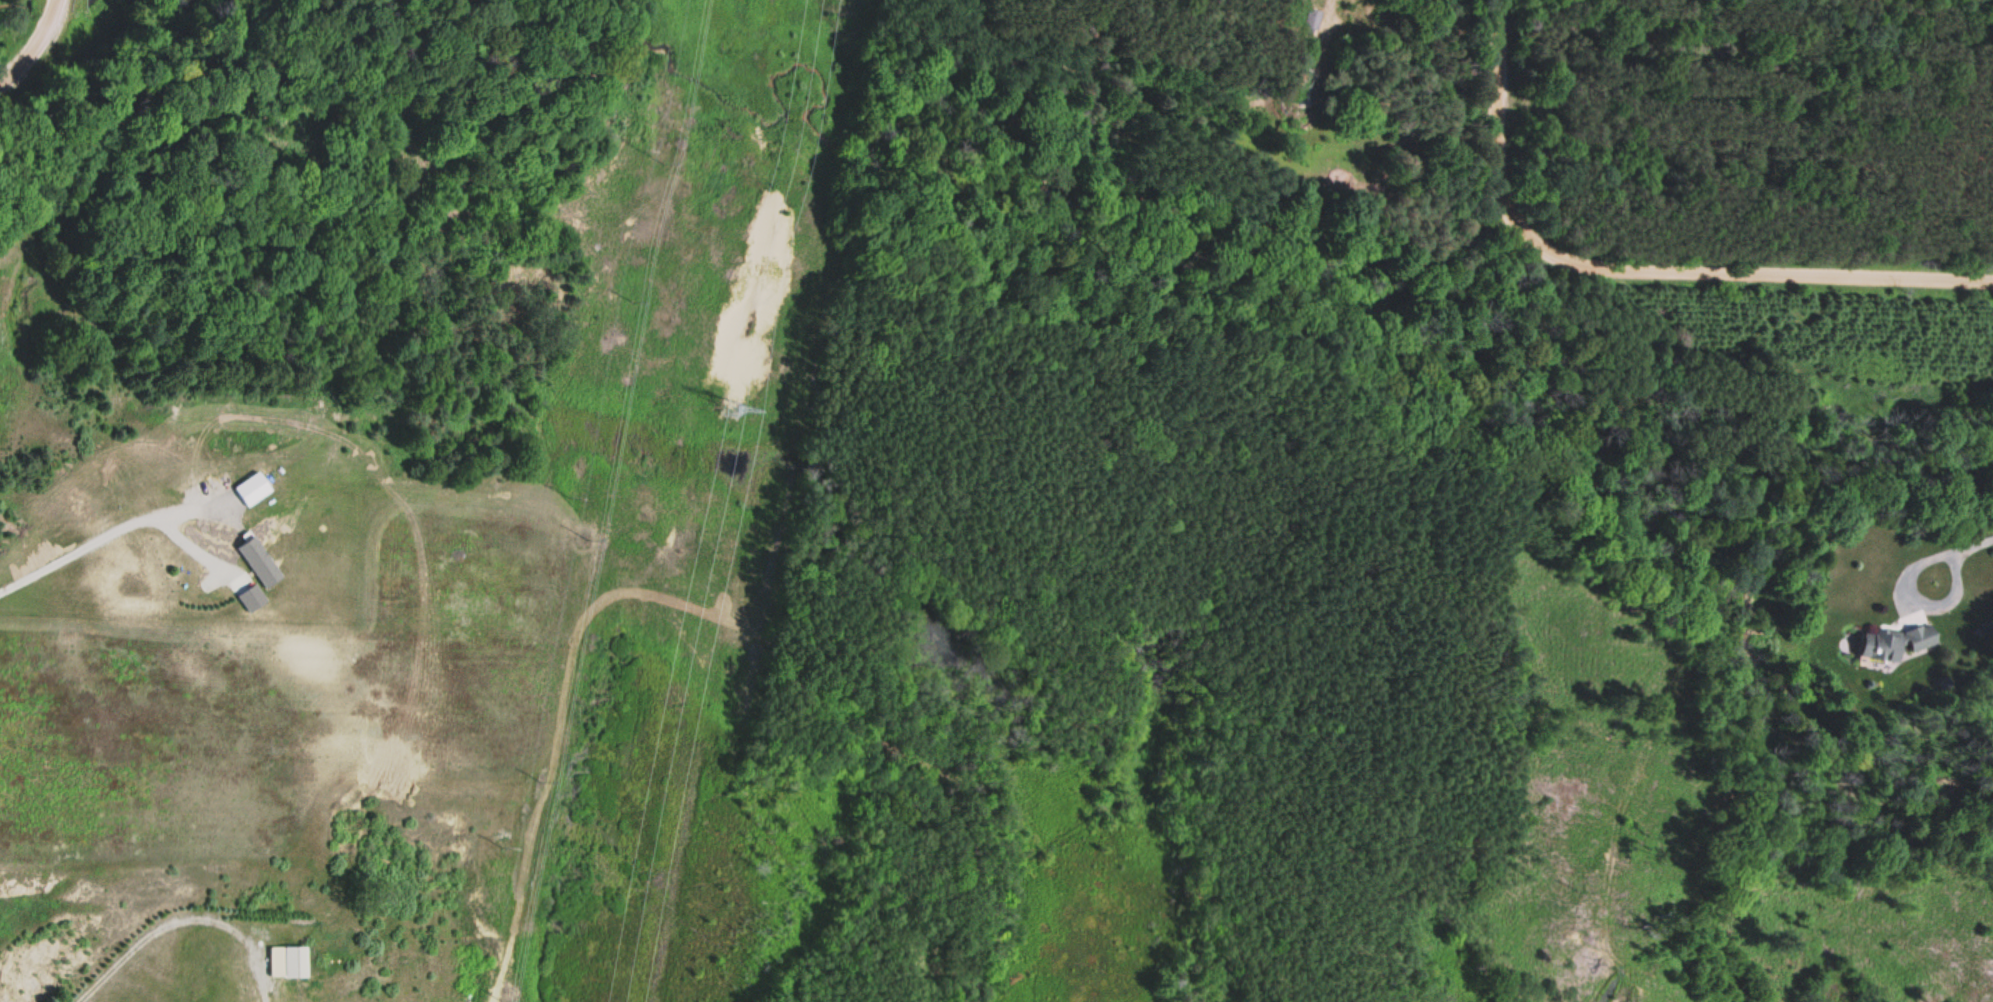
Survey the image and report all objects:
road: (35, 43)
road: (1484, 122)
road: (1750, 271)
power tower: (729, 407)
building: (253, 490)
building: (260, 561)
building: (298, 961)

